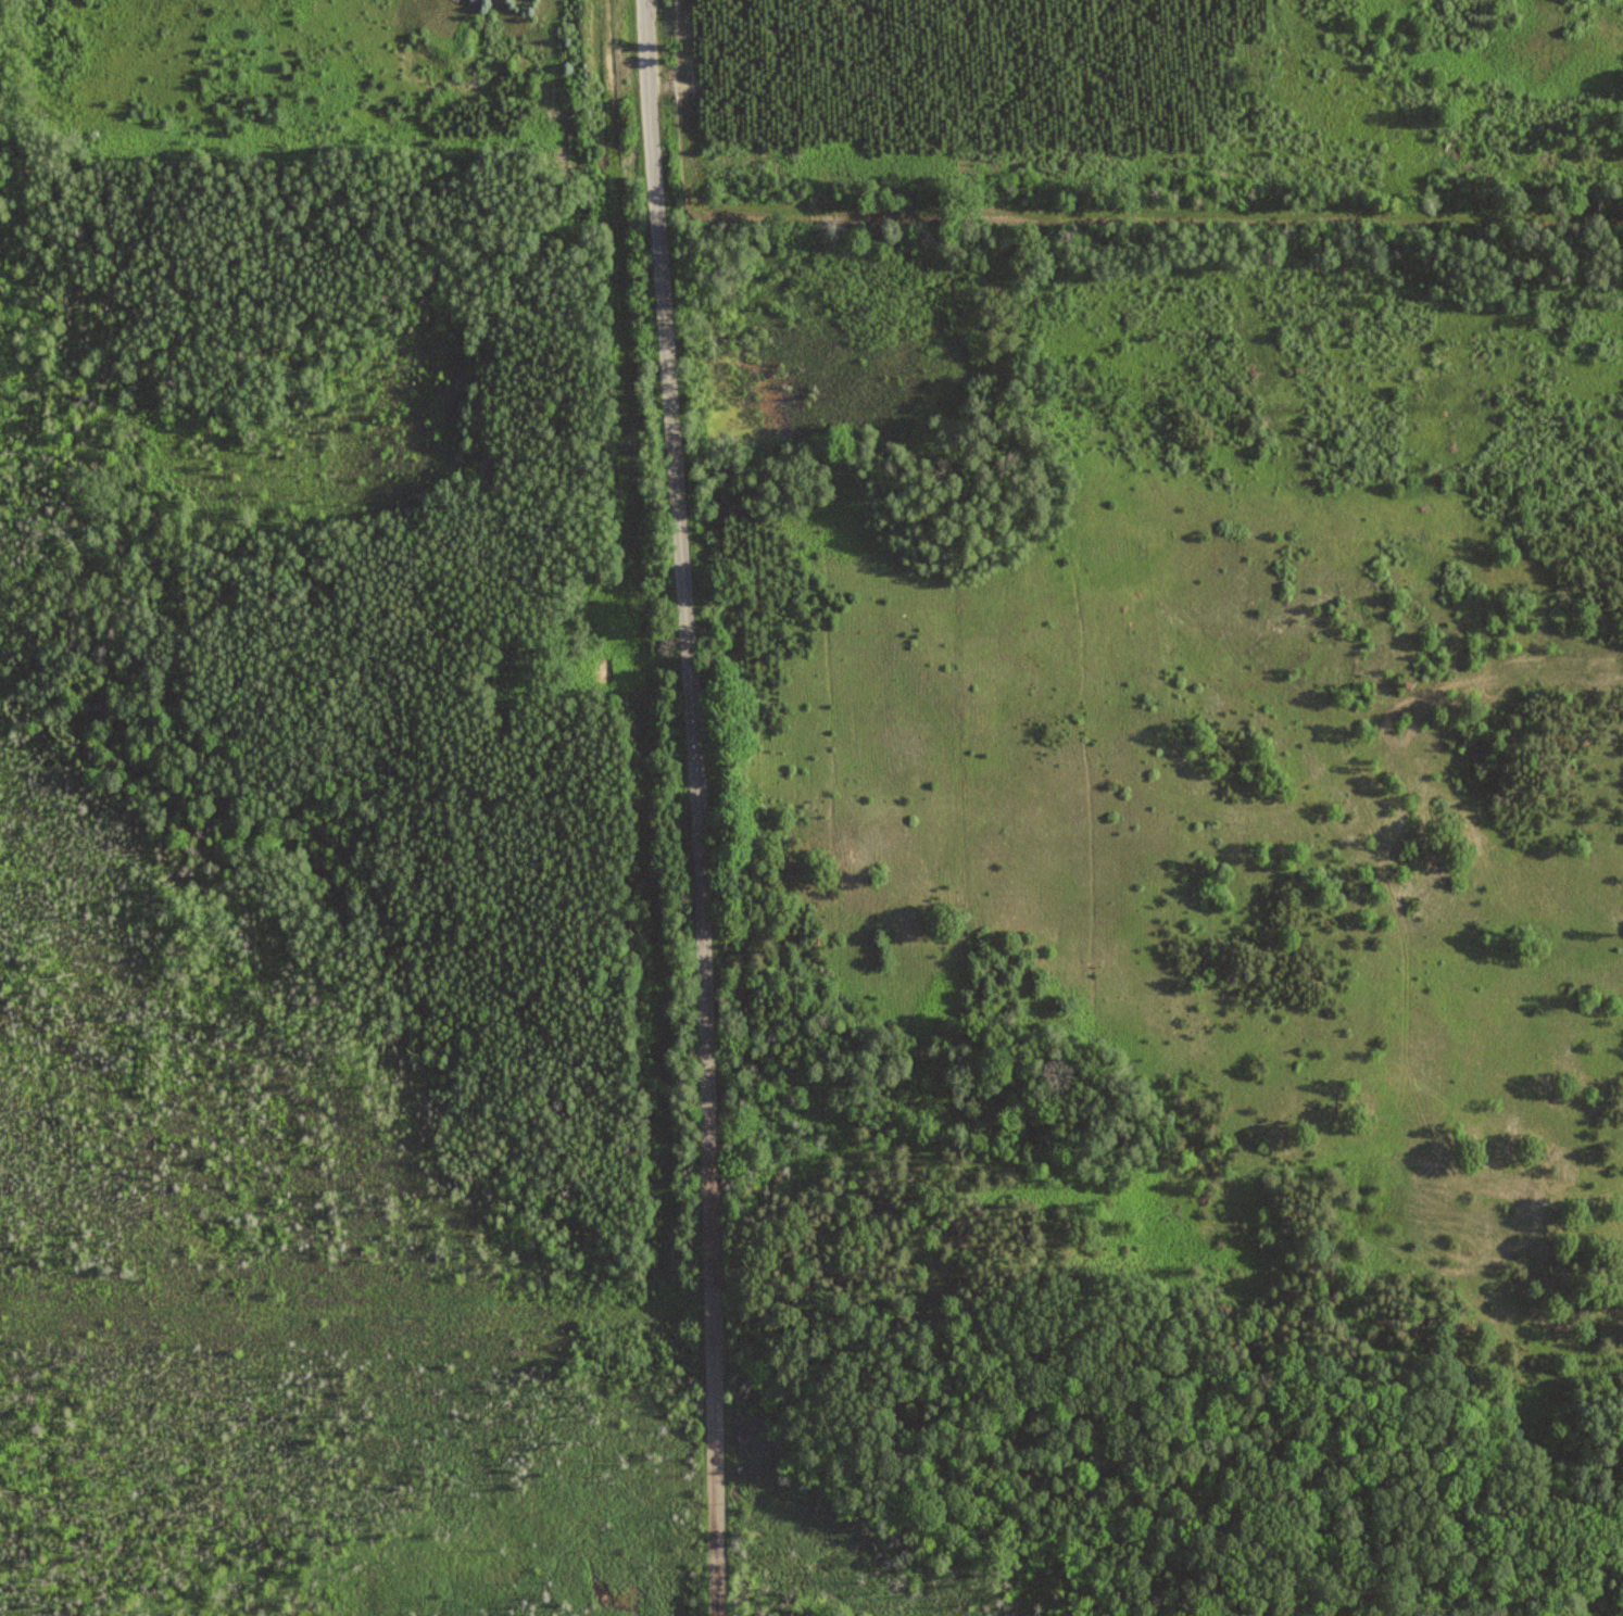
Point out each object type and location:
airport: (311, 74)
road: (692, 807)

